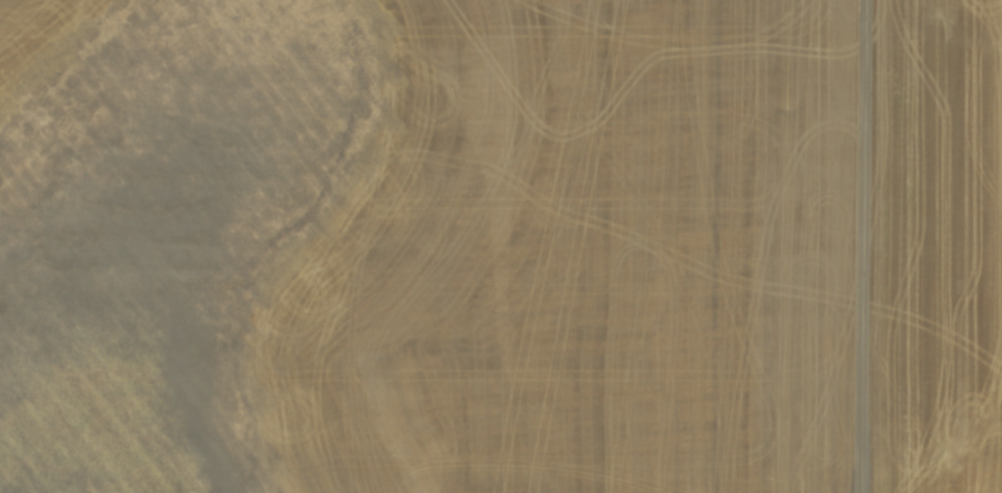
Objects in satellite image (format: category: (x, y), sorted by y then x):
road: (858, 246)

